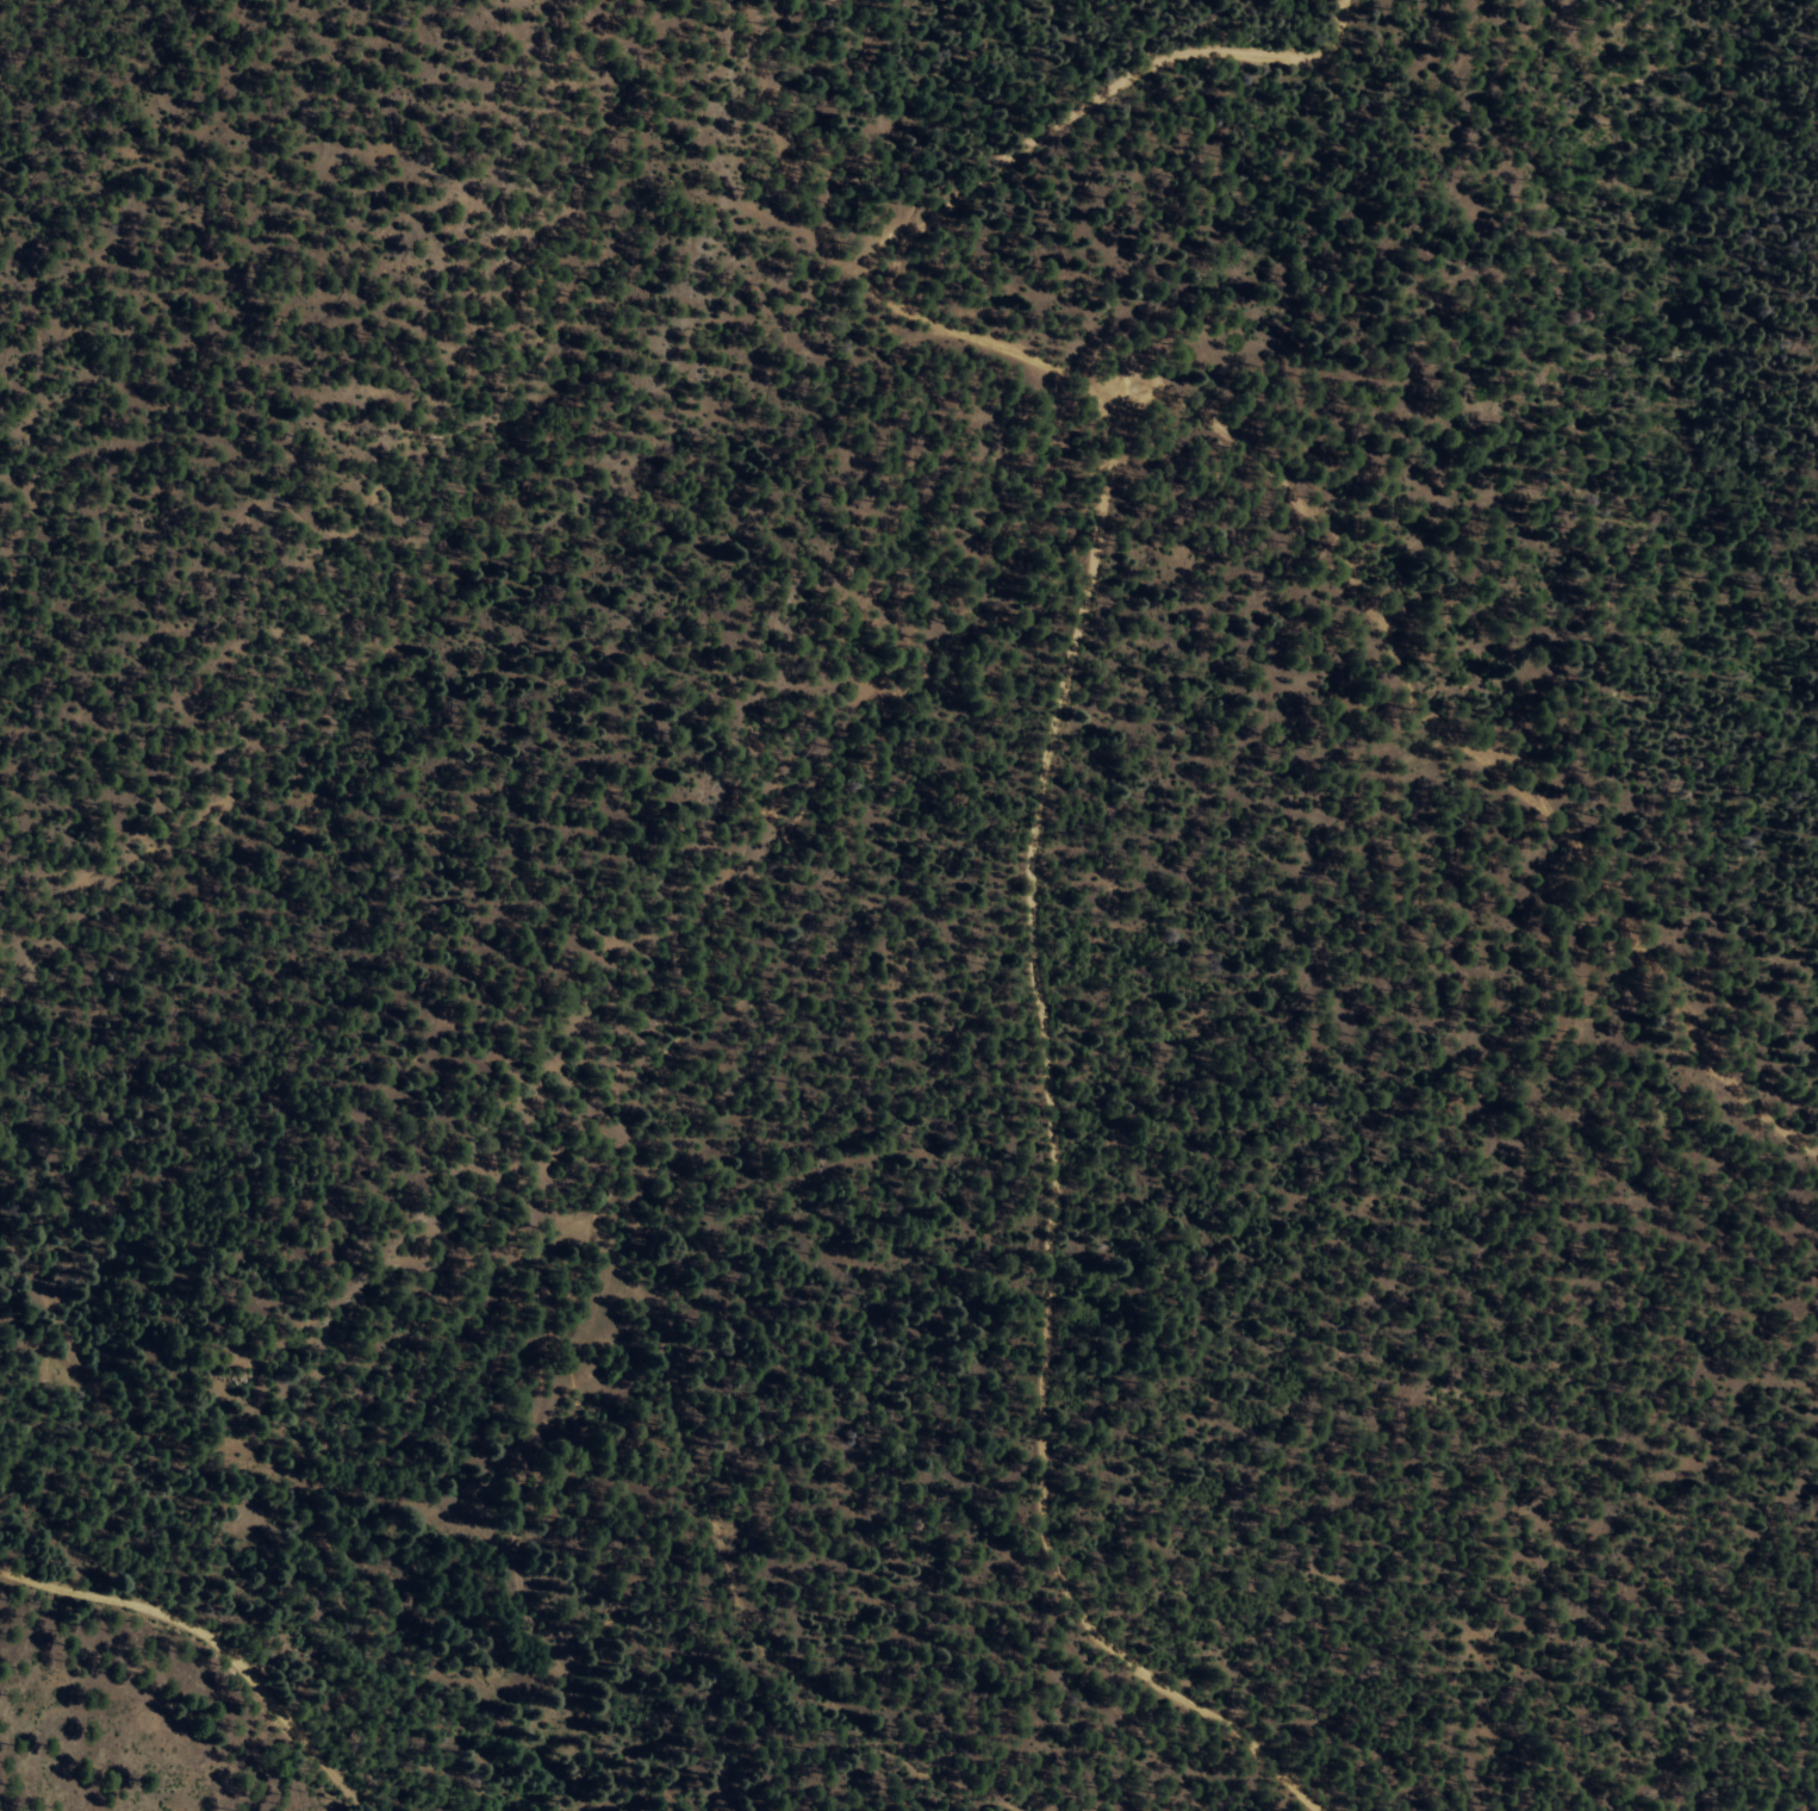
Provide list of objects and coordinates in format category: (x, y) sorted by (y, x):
road: (1014, 182)
road: (816, 303)
road: (1064, 655)
road: (212, 1641)

